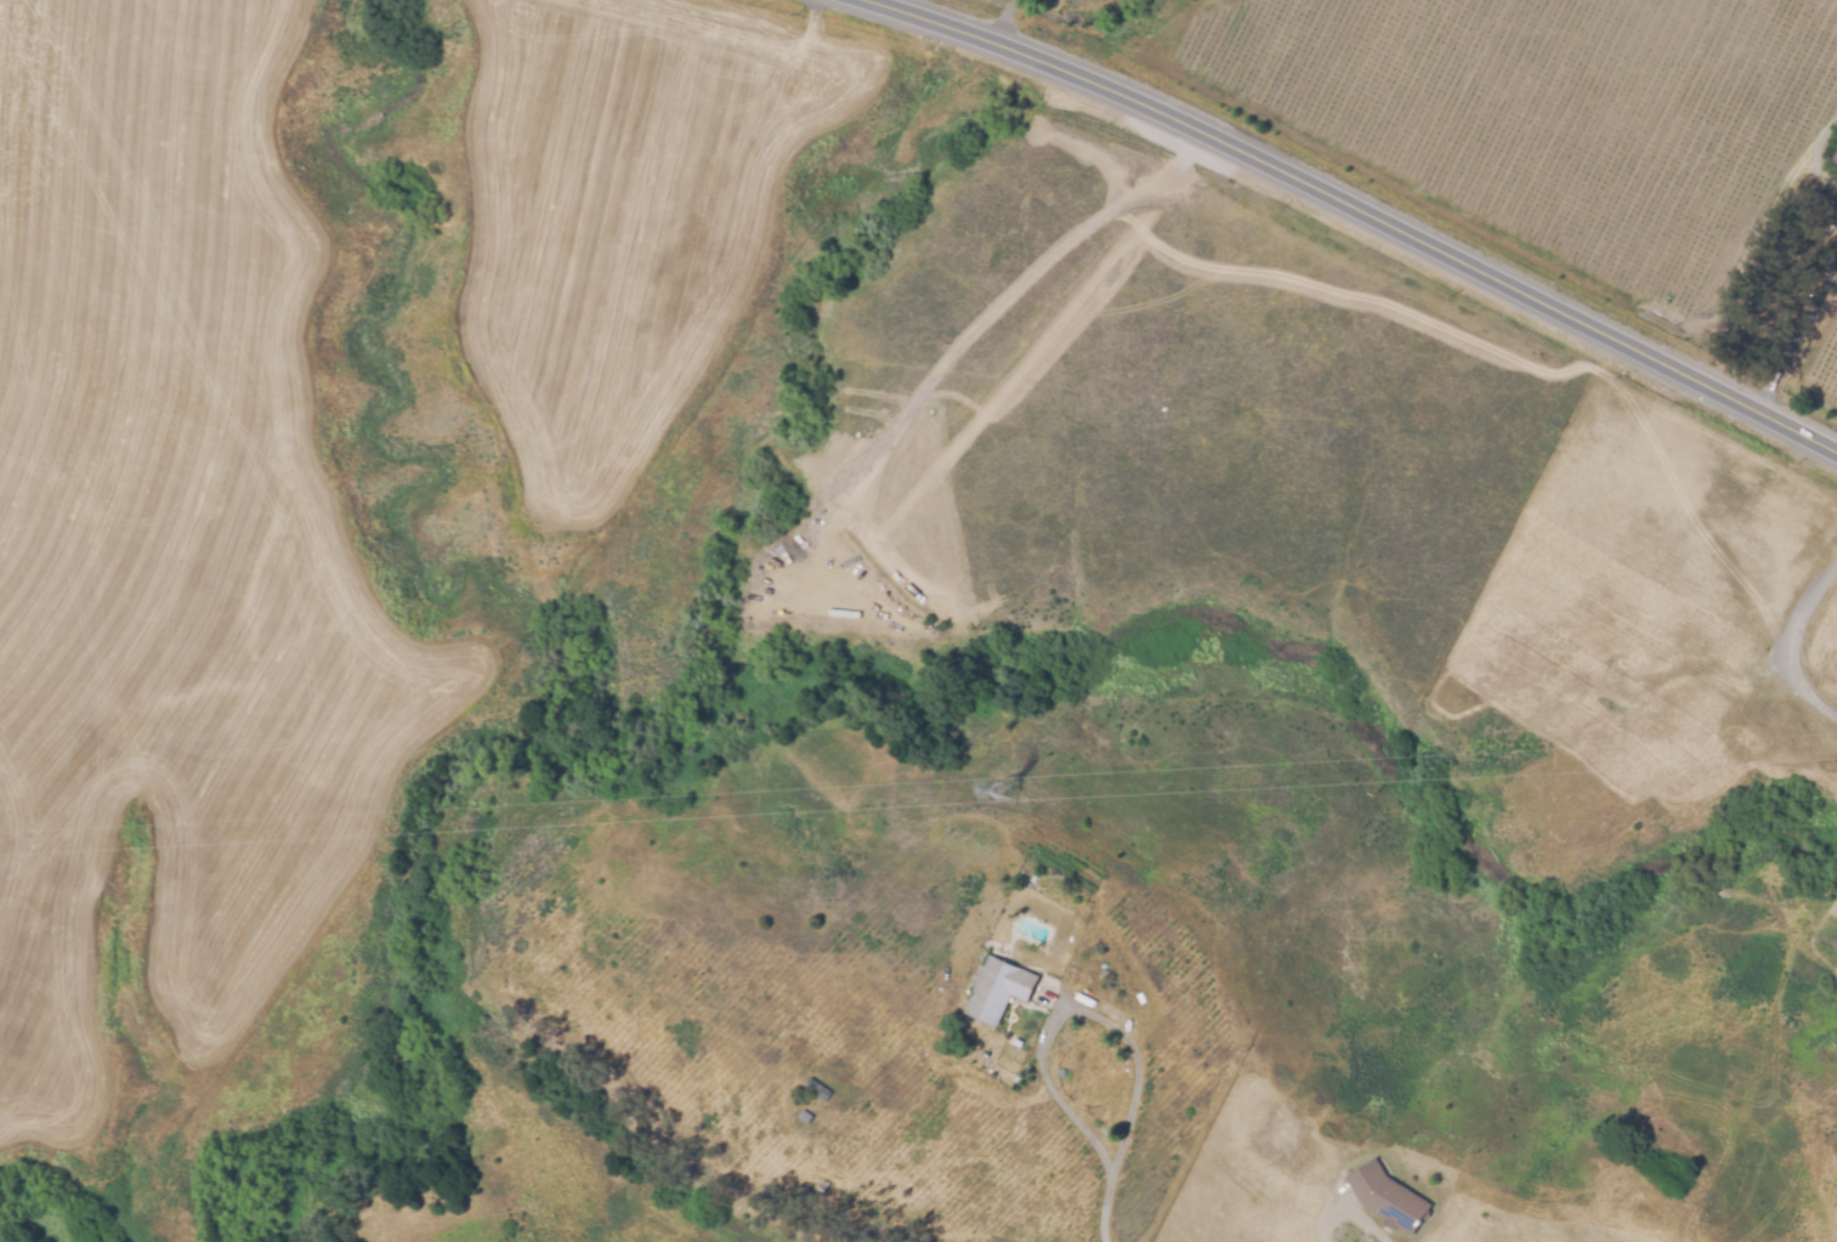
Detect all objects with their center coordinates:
road: (1361, 209)
road: (1797, 338)
road: (1793, 642)
road: (749, 656)
power tower: (1008, 793)
building: (998, 991)
road: (1078, 1015)
building: (817, 1091)
building: (805, 1117)
building: (1388, 1198)
road: (1106, 1207)
road: (1366, 1223)

